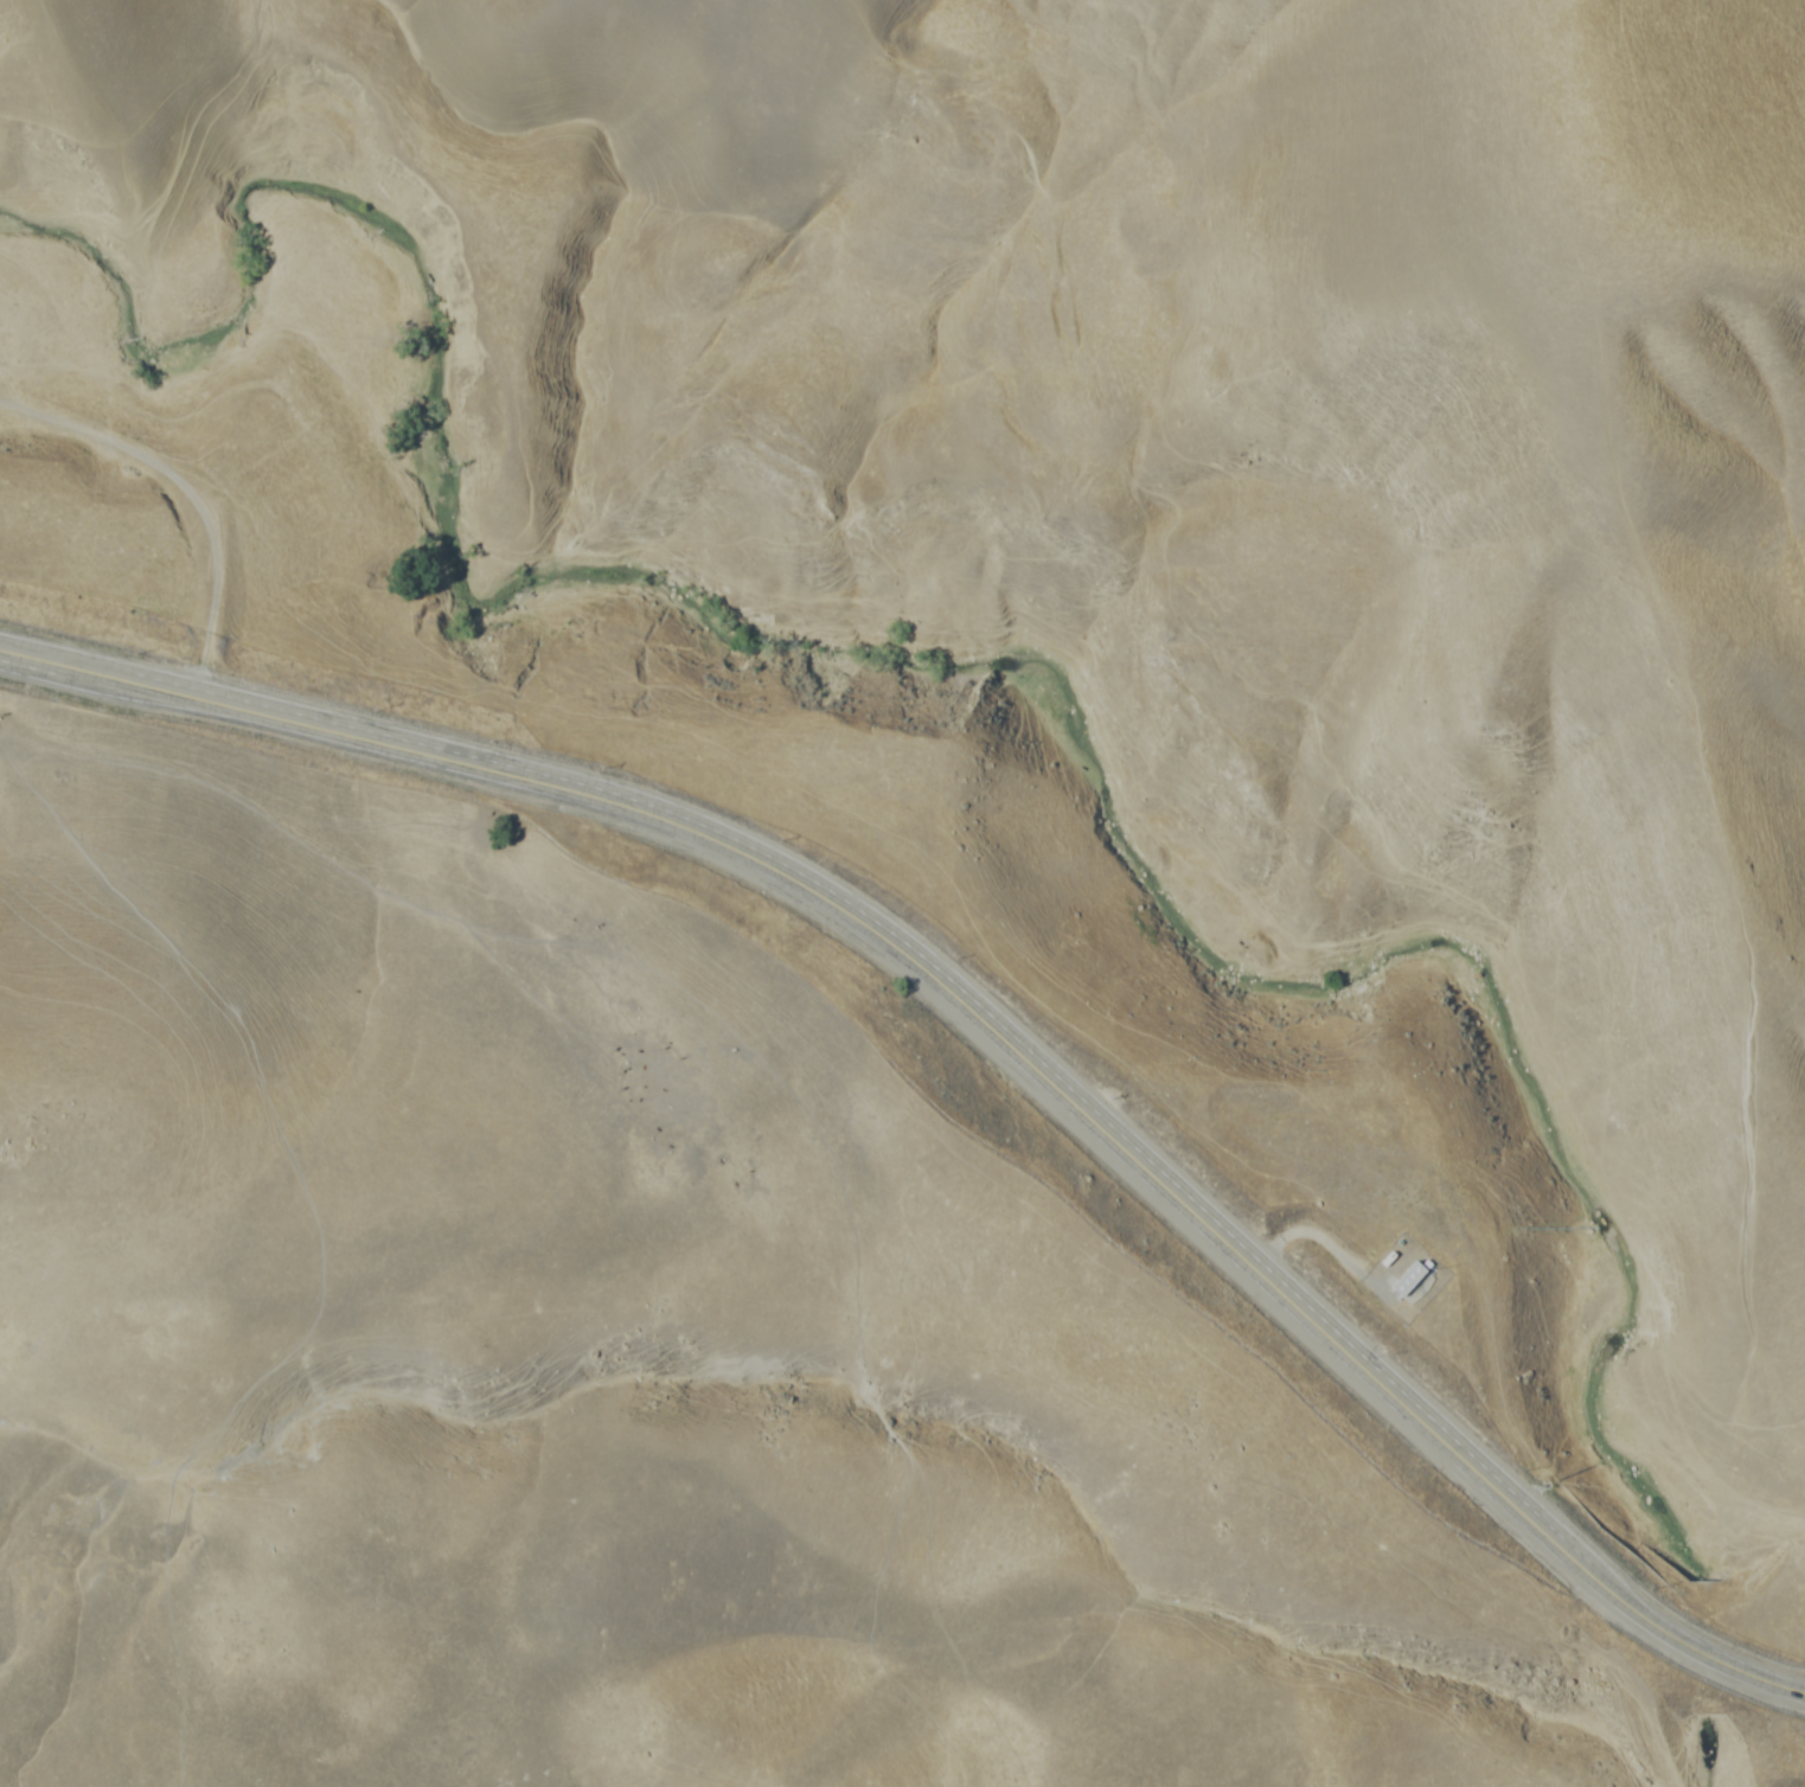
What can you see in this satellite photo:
road: (178, 487)
road: (984, 997)
building: (1407, 1279)

